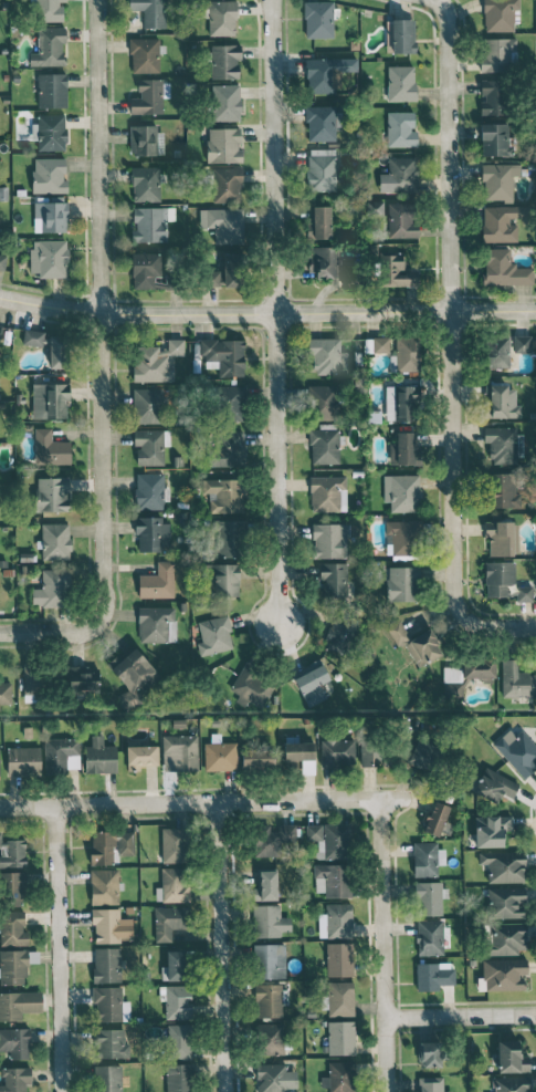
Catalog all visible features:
building: (49, 10)
building: (150, 12)
building: (500, 14)
building: (221, 18)
building: (318, 19)
building: (400, 35)
building: (49, 46)
building: (145, 54)
building: (496, 54)
building: (225, 61)
building: (327, 73)
building: (401, 83)
building: (52, 90)
building: (149, 96)
building: (493, 96)
building: (224, 102)
building: (323, 123)
building: (400, 128)
building: (50, 132)
building: (145, 139)
building: (494, 139)
building: (223, 145)
building: (323, 169)
building: (49, 175)
building: (399, 175)
building: (500, 180)
building: (145, 184)
building: (227, 185)
building: (51, 215)
building: (400, 221)
building: (320, 222)
building: (502, 222)
building: (149, 223)
building: (223, 223)
building: (49, 258)
building: (2, 261)
building: (324, 261)
building: (504, 269)
building: (233, 270)
building: (146, 271)
building: (397, 271)
building: (349, 275)
building: (214, 278)
road: (267, 312)
road: (273, 312)
building: (0, 330)
building: (32, 337)
building: (522, 343)
building: (380, 344)
road: (451, 345)
building: (57, 351)
road: (97, 352)
building: (497, 352)
building: (406, 354)
building: (224, 355)
building: (327, 356)
building: (158, 361)
building: (50, 401)
building: (324, 402)
building: (502, 402)
building: (232, 403)
building: (401, 403)
building: (147, 405)
building: (325, 445)
building: (502, 445)
building: (150, 446)
building: (50, 448)
building: (227, 448)
building: (404, 450)
building: (504, 490)
building: (149, 491)
building: (325, 492)
building: (401, 492)
building: (52, 493)
building: (224, 495)
building: (151, 532)
building: (502, 537)
building: (228, 538)
building: (402, 539)
building: (329, 540)
building: (55, 541)
building: (224, 580)
building: (332, 580)
building: (157, 582)
building: (504, 582)
building: (401, 583)
building: (52, 589)
building: (156, 624)
road: (9, 632)
building: (214, 635)
building: (339, 636)
building: (416, 643)
building: (472, 669)
building: (133, 676)
building: (35, 679)
building: (83, 679)
building: (516, 680)
building: (311, 682)
building: (253, 685)
building: (6, 693)
building: (517, 751)
building: (180, 752)
building: (337, 752)
building: (369, 752)
building: (61, 755)
building: (220, 755)
building: (301, 755)
building: (422, 755)
building: (99, 757)
building: (140, 757)
building: (258, 758)
building: (23, 761)
building: (494, 786)
road: (202, 802)
building: (435, 818)
building: (492, 830)
building: (0, 836)
building: (273, 840)
building: (329, 840)
building: (172, 844)
building: (111, 845)
building: (12, 854)
building: (427, 859)
building: (503, 865)
building: (333, 880)
building: (266, 884)
building: (172, 885)
building: (104, 886)
building: (13, 888)
building: (429, 897)
building: (505, 902)
building: (270, 921)
building: (336, 921)
building: (168, 922)
building: (109, 925)
building: (12, 928)
building: (429, 936)
building: (507, 937)
road: (382, 944)
road: (221, 947)
road: (57, 948)
building: (339, 959)
building: (270, 960)
building: (106, 965)
building: (172, 966)
building: (13, 967)
building: (433, 975)
building: (503, 975)
building: (339, 998)
building: (267, 1000)
building: (178, 1001)
building: (19, 1005)
building: (109, 1005)
road: (460, 1017)
building: (340, 1038)
building: (271, 1039)
building: (179, 1041)
building: (15, 1042)
building: (109, 1043)
building: (429, 1053)
building: (511, 1057)
building: (339, 1077)
building: (108, 1078)
building: (179, 1078)
building: (274, 1078)
building: (15, 1079)
building: (431, 1084)
building: (511, 1084)

